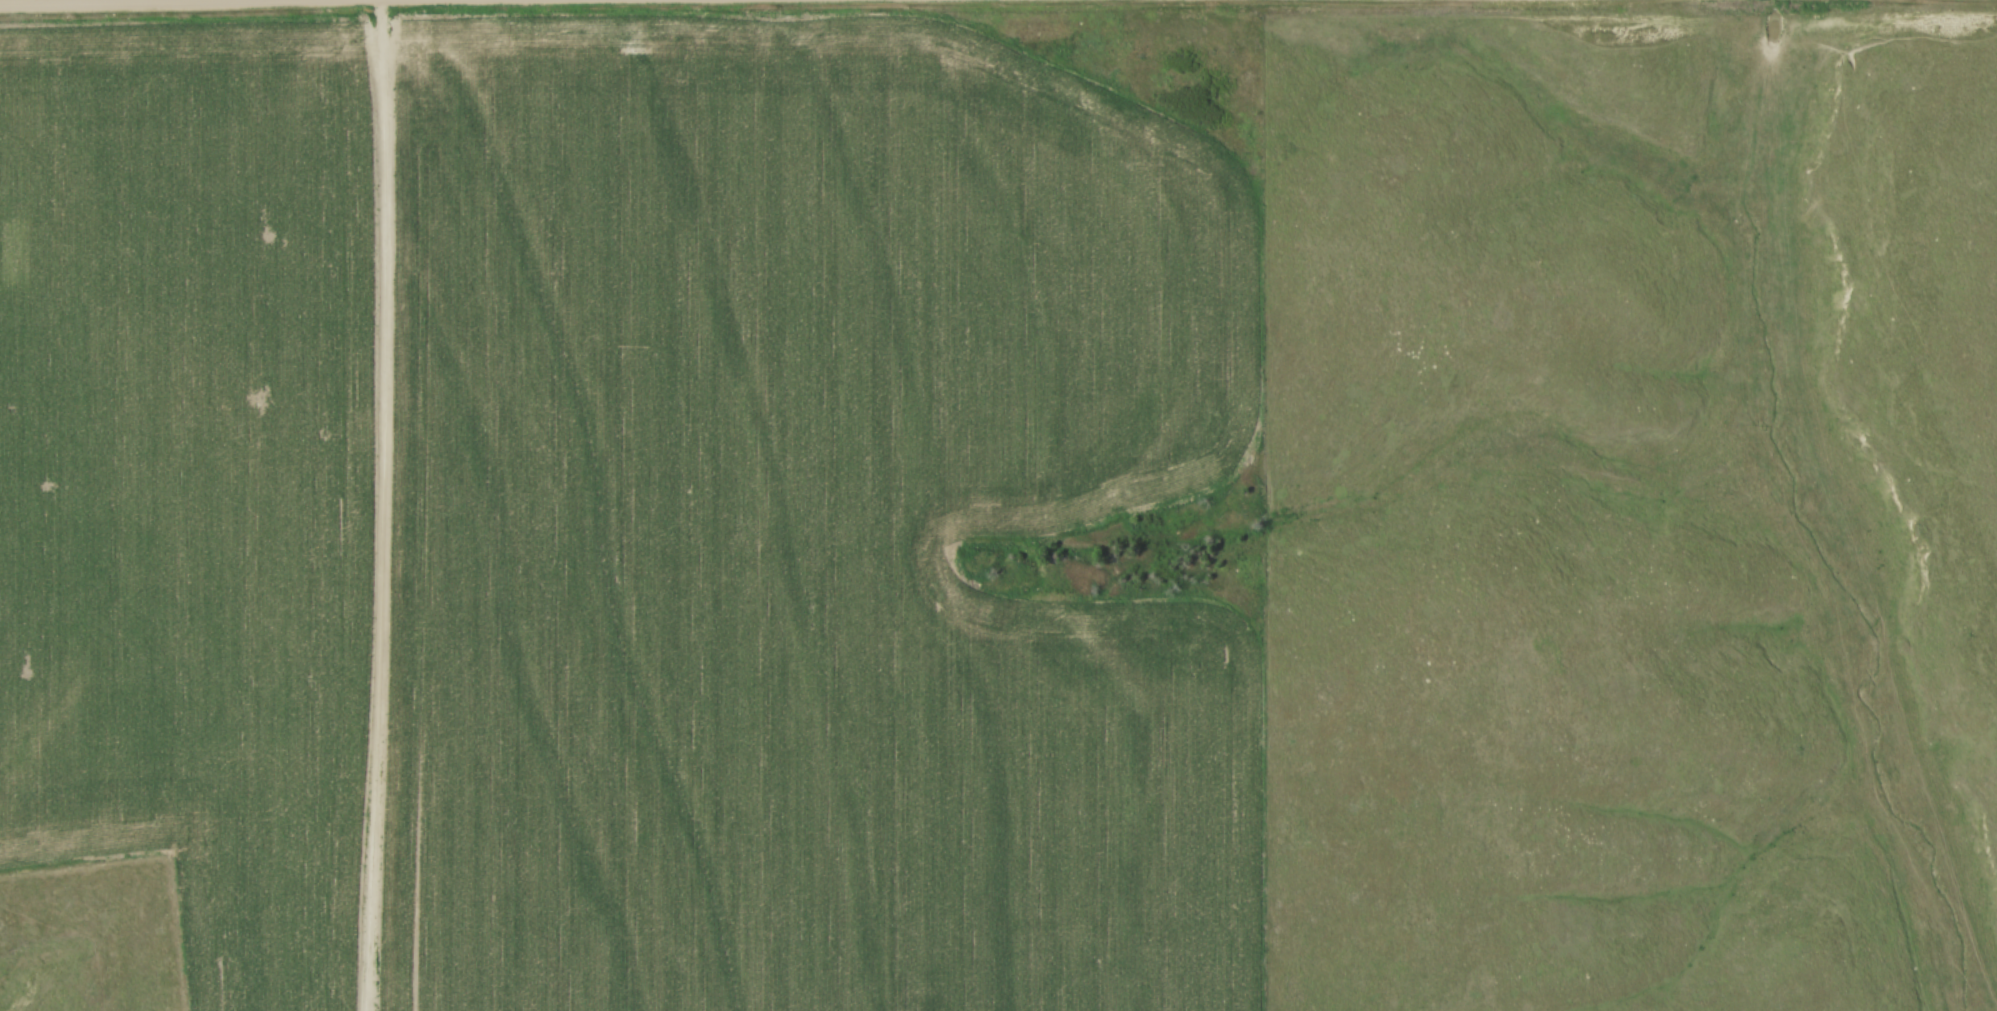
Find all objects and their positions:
road: (62, 0)
crop: (190, 476)
crop: (805, 523)

